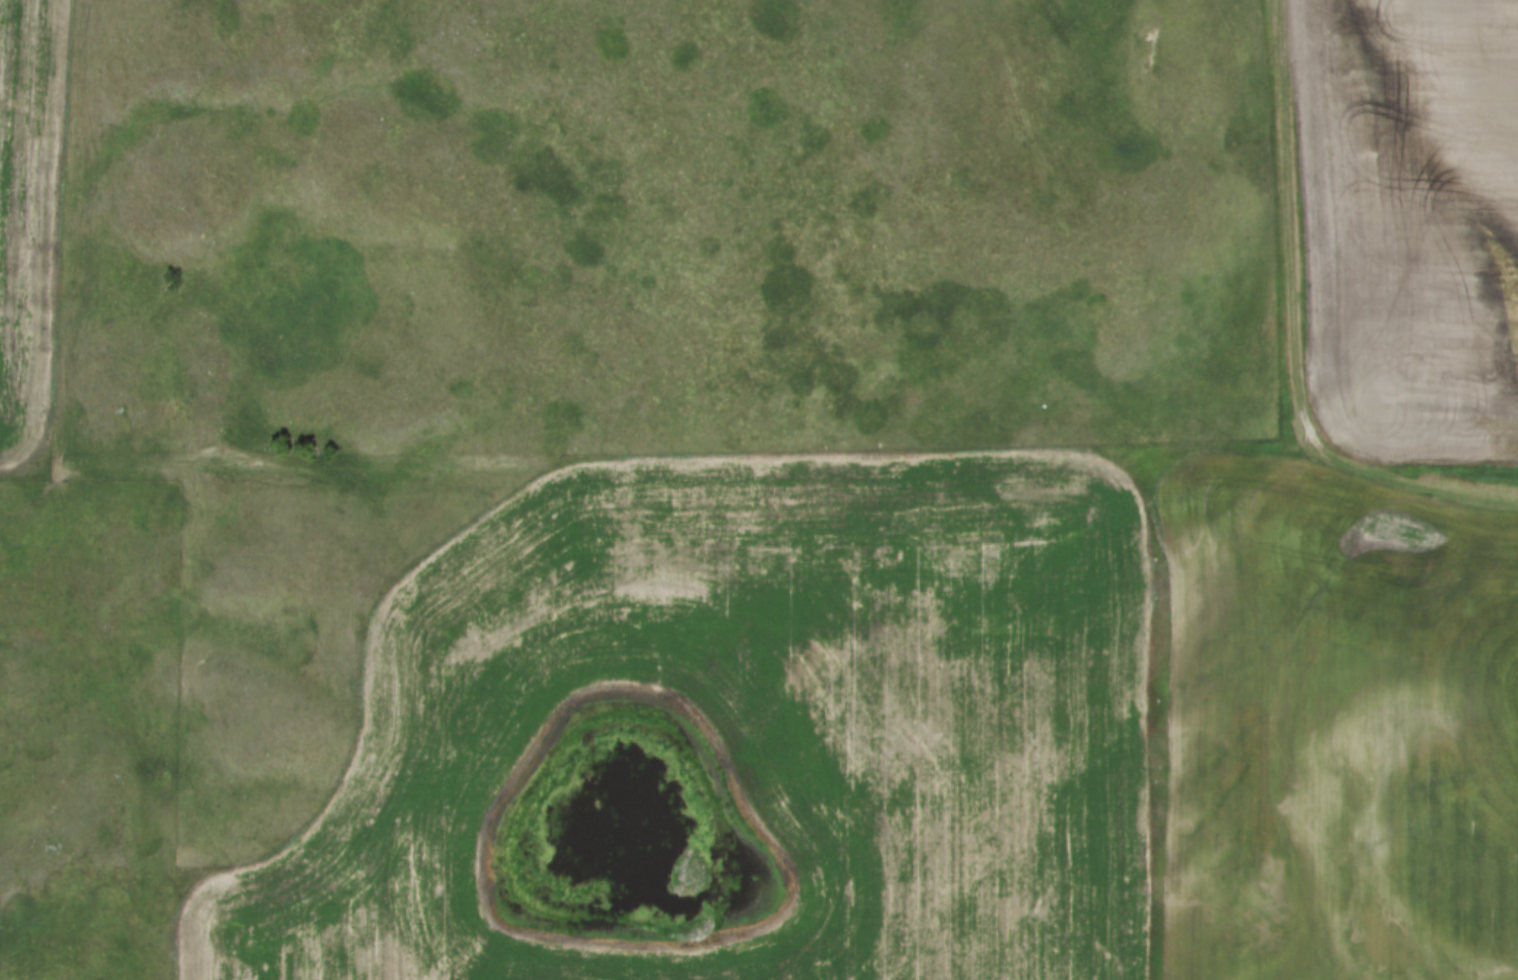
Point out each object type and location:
road: (1301, 329)

